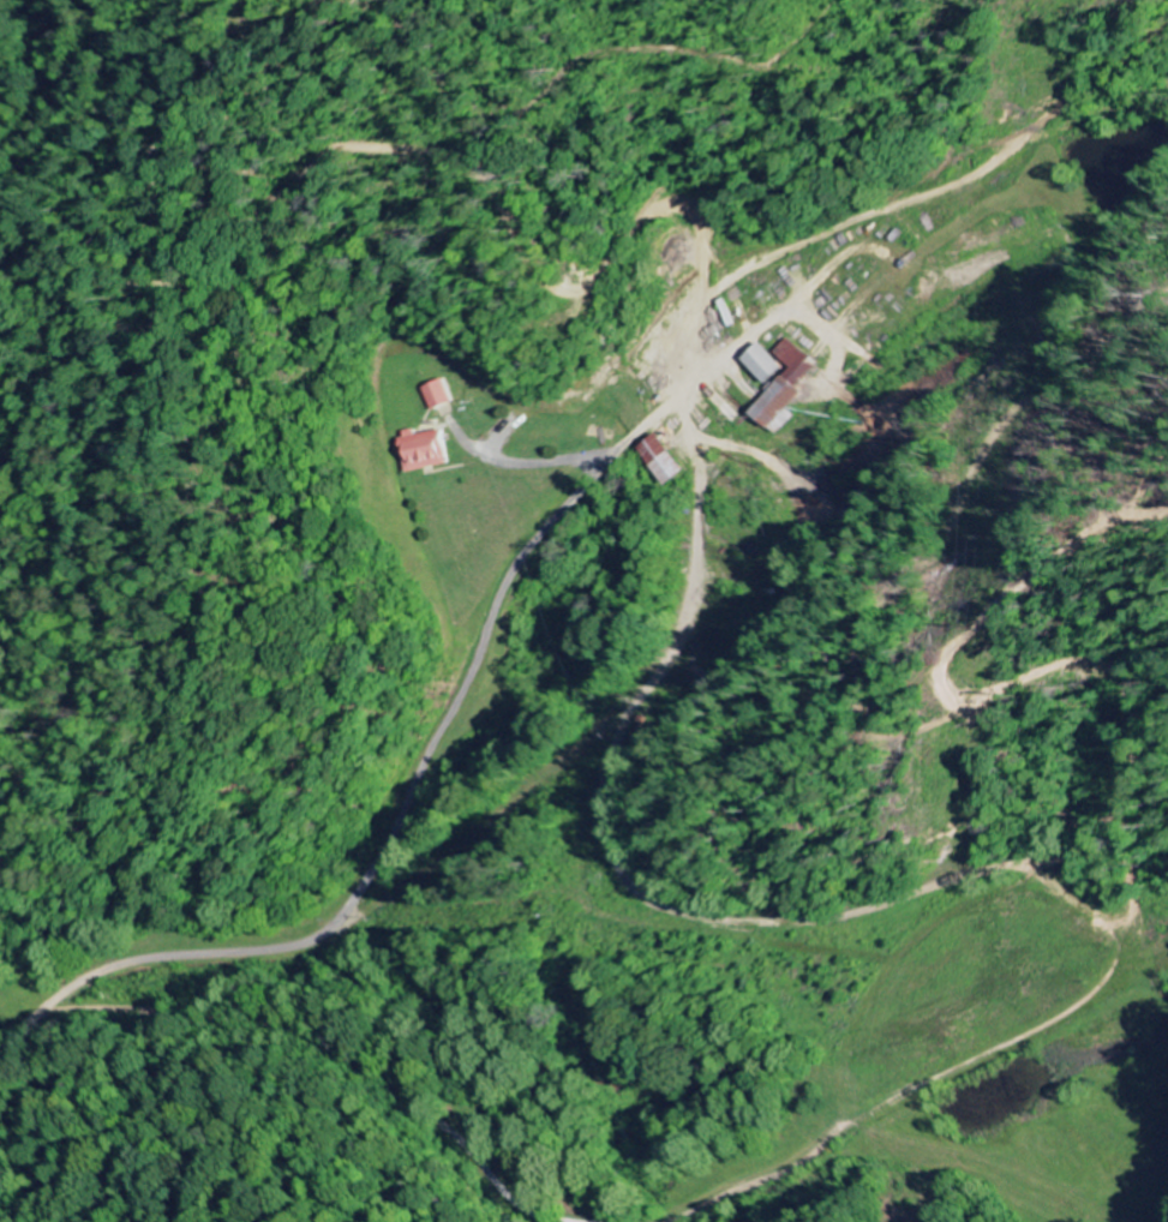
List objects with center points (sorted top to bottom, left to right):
building: (777, 364)
building: (797, 388)
building: (439, 396)
building: (429, 450)
building: (673, 461)
road: (473, 833)

